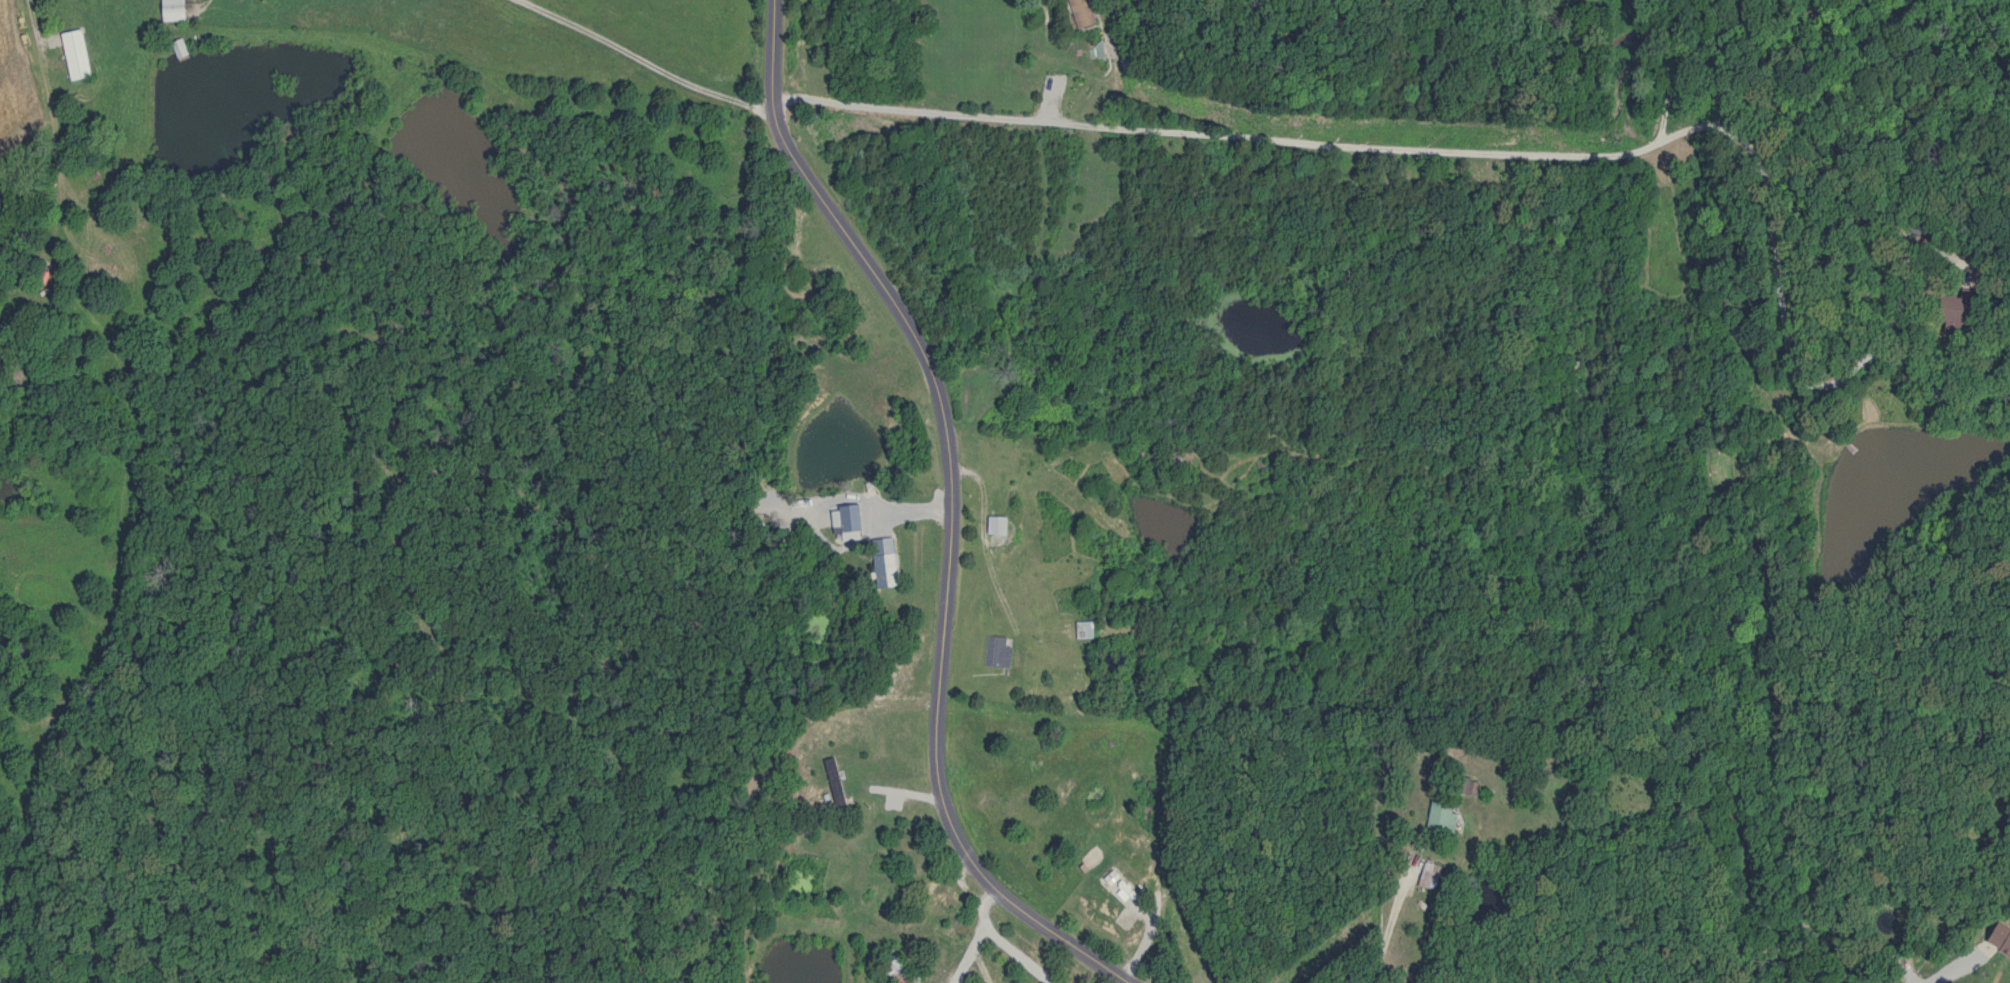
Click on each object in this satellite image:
building: (176, 10)
building: (1082, 13)
road: (30, 21)
building: (181, 50)
building: (79, 55)
road: (644, 60)
road: (1509, 152)
road: (951, 510)
building: (852, 521)
building: (1001, 524)
building: (886, 563)
building: (1086, 629)
building: (999, 653)
building: (836, 782)
building: (1444, 817)
building: (1430, 876)
building: (944, 895)
road: (1385, 923)
road: (1945, 969)
building: (900, 971)

